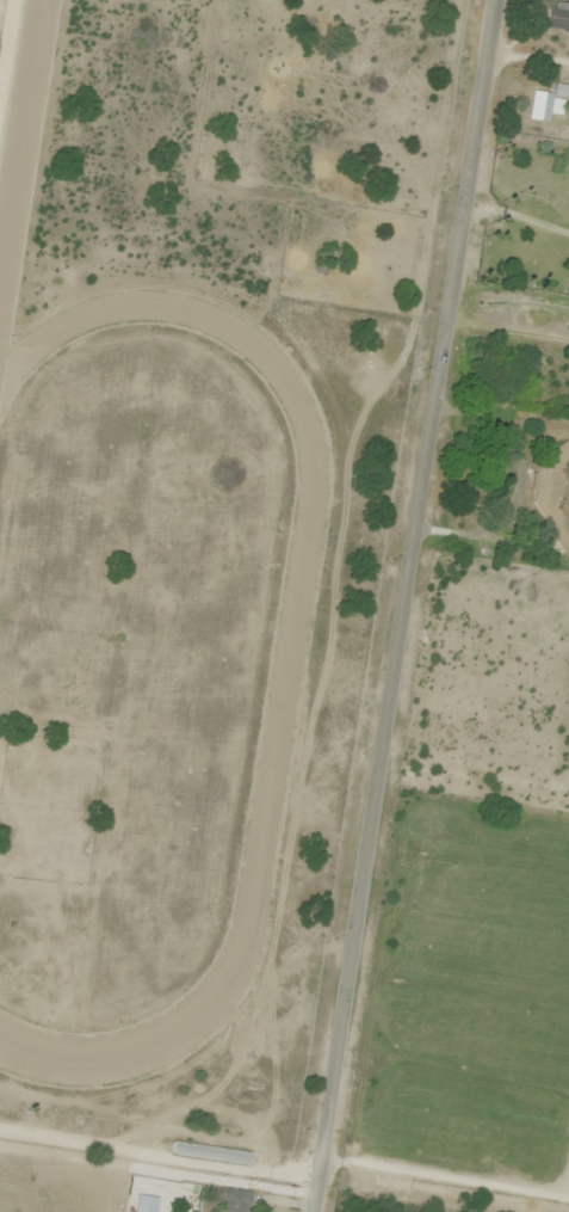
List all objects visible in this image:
building: (558, 16)
road: (5, 32)
building: (548, 104)
building: (549, 491)
road: (406, 605)
road: (481, 699)
building: (211, 1153)
road: (159, 1156)
building: (236, 1200)

